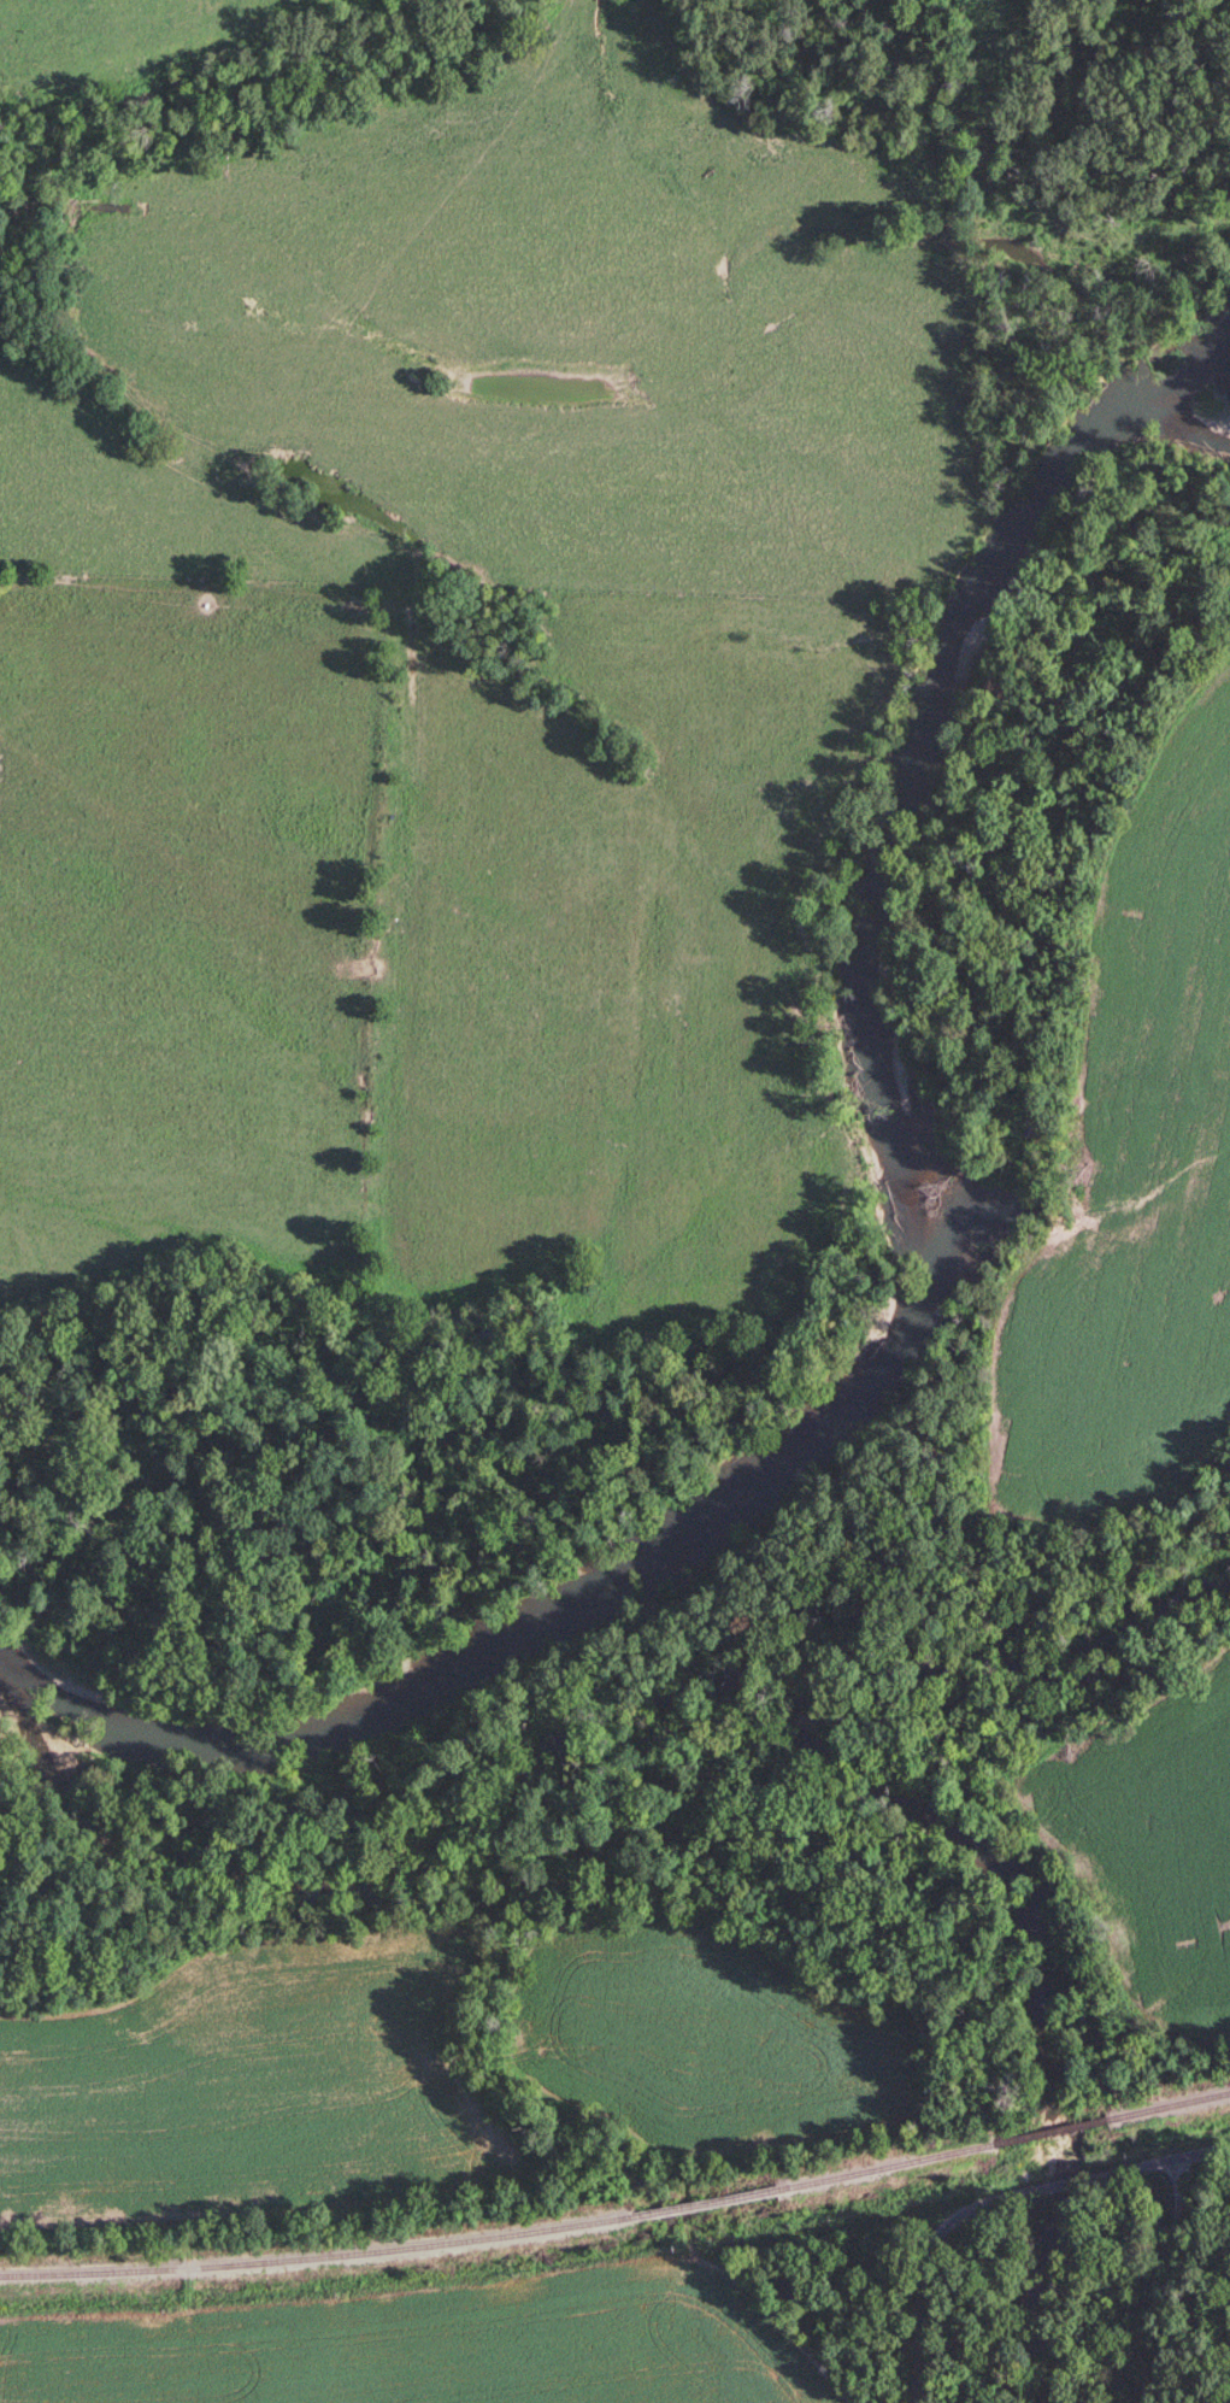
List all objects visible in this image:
railway: (1165, 2103)
railway: (1046, 2129)
railway: (882, 2166)
railway: (705, 2201)
road: (999, 2201)
railway: (318, 2254)
road: (1146, 2276)

